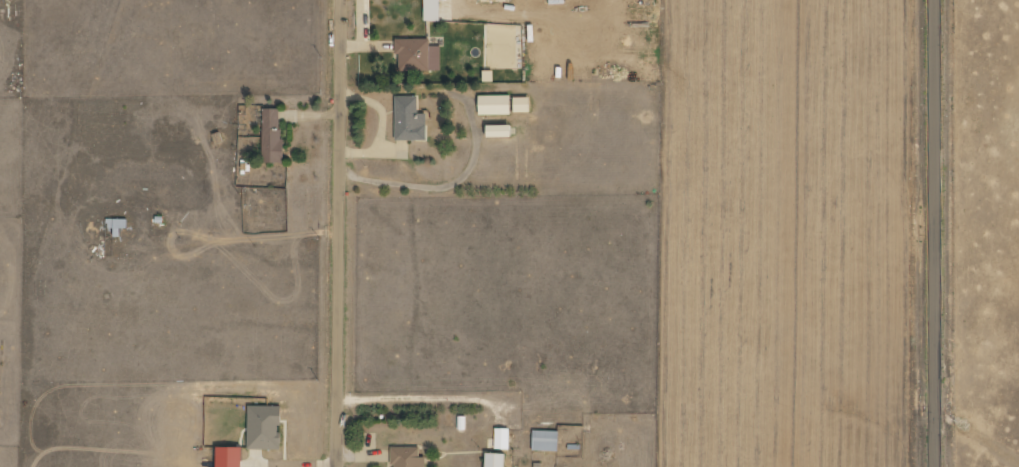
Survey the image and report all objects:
building: (432, 10)
building: (418, 55)
building: (523, 104)
building: (495, 105)
building: (409, 119)
building: (501, 131)
building: (272, 136)
building: (117, 225)
road: (341, 233)
road: (937, 233)
building: (265, 427)
building: (502, 438)
building: (546, 440)
building: (231, 457)
building: (407, 457)
building: (496, 460)

